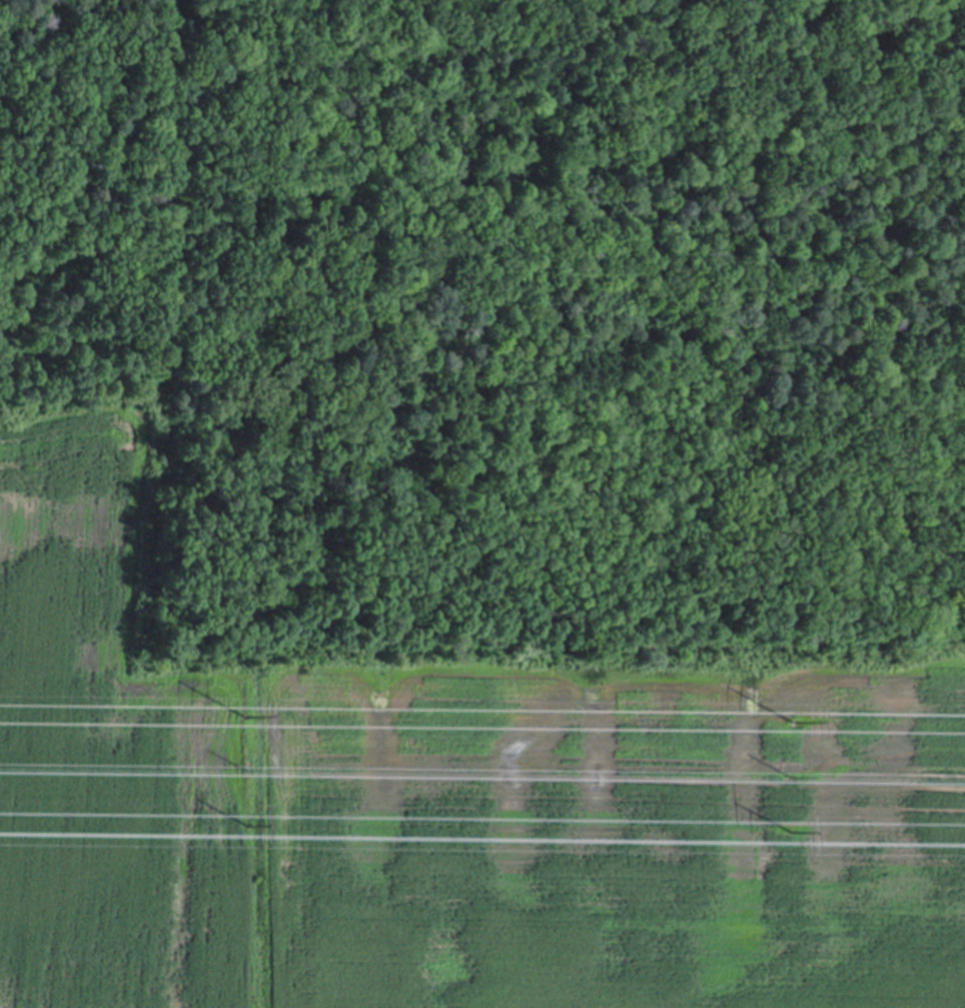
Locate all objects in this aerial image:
power tower: (246, 713)
power tower: (795, 718)

